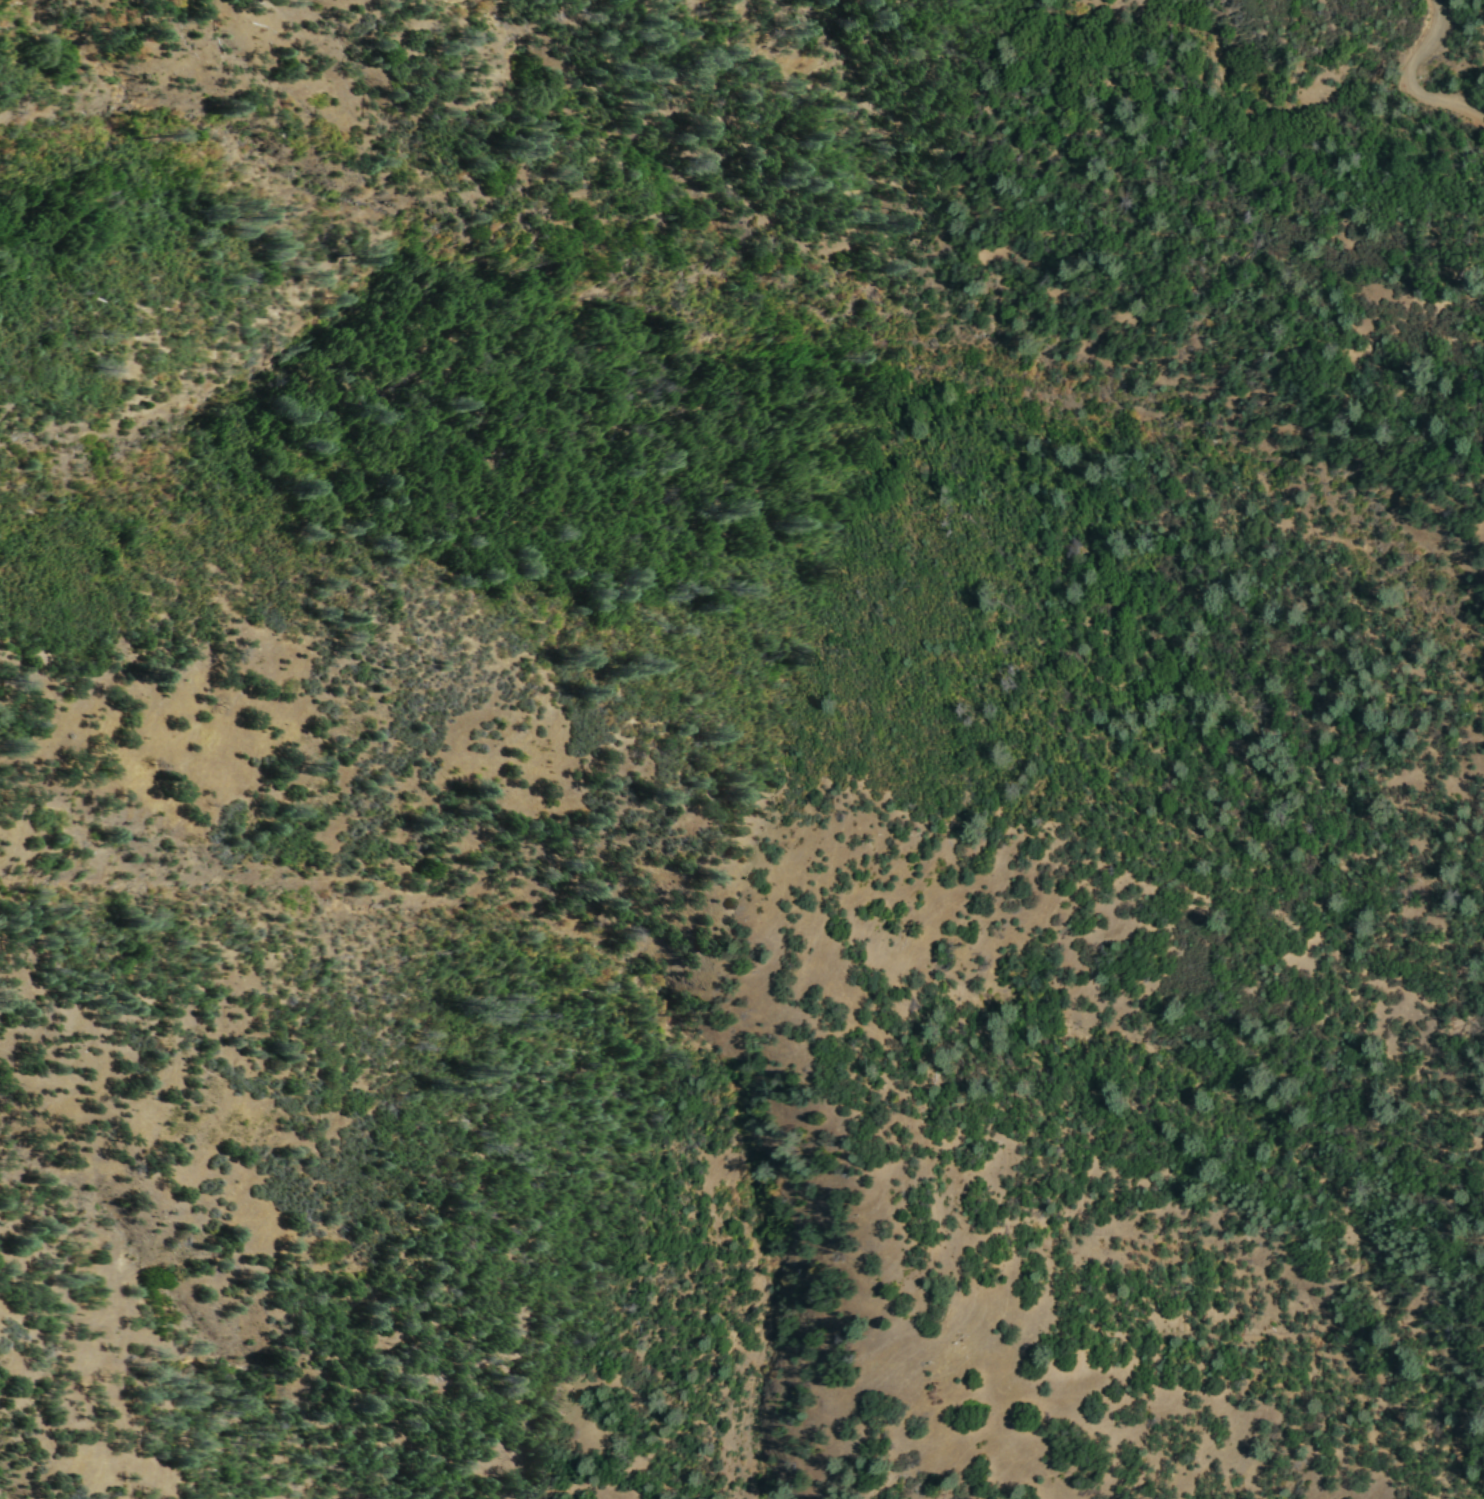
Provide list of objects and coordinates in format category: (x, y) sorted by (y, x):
road: (1404, 81)

